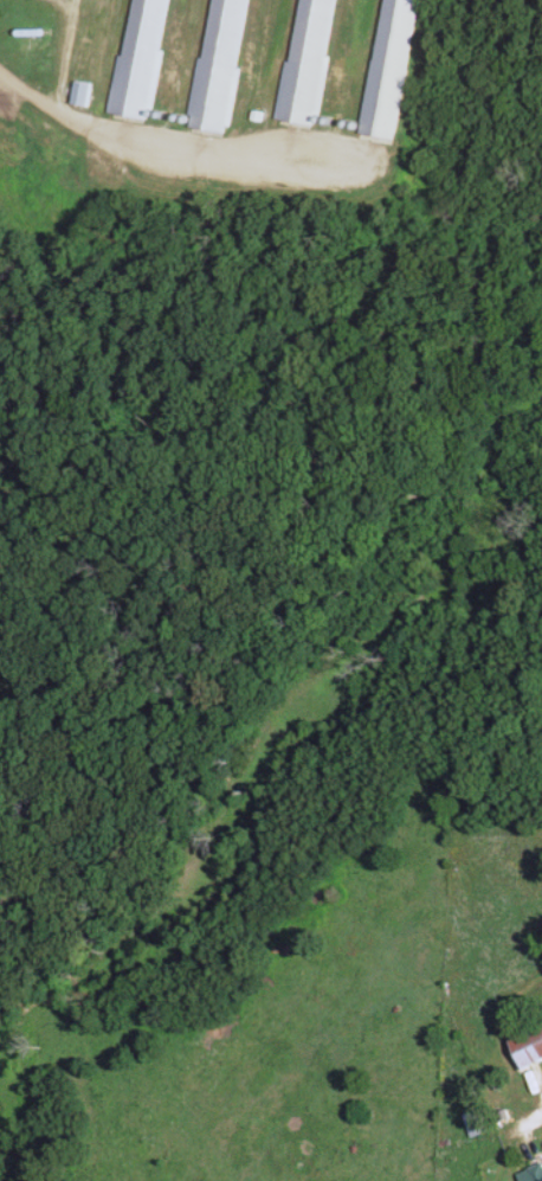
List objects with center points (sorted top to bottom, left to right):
building: (141, 59)
building: (308, 62)
building: (219, 65)
building: (389, 69)
road: (47, 104)
building: (527, 1048)
building: (473, 1124)
road: (528, 1138)
building: (535, 1173)

